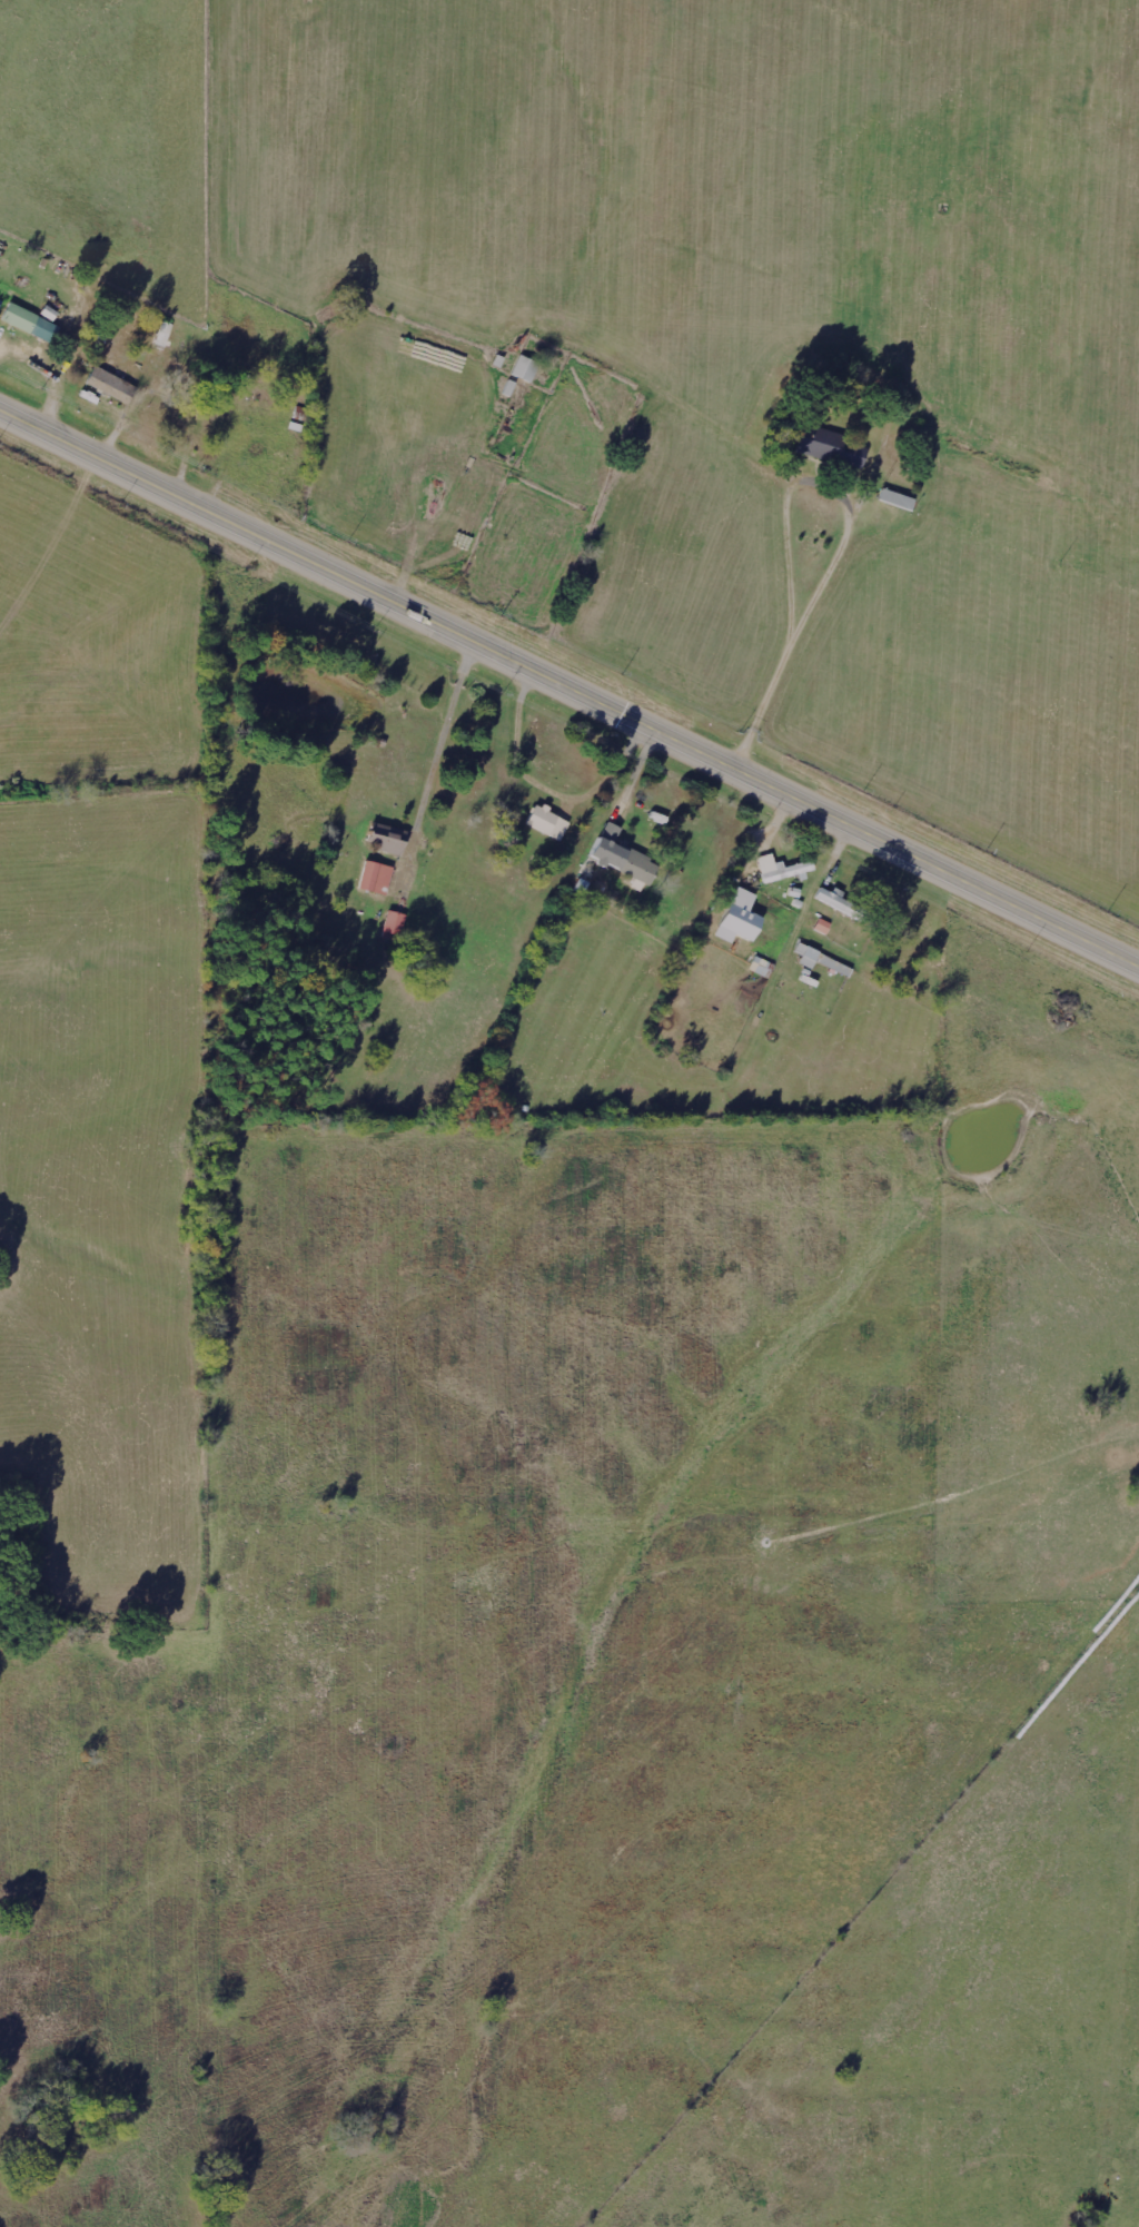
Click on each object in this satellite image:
building: (29, 321)
building: (526, 368)
building: (112, 384)
road: (670, 393)
building: (833, 448)
road: (845, 529)
road: (568, 681)
building: (549, 822)
building: (388, 841)
building: (623, 855)
building: (781, 868)
building: (377, 878)
building: (839, 901)
building: (824, 927)
building: (822, 960)

